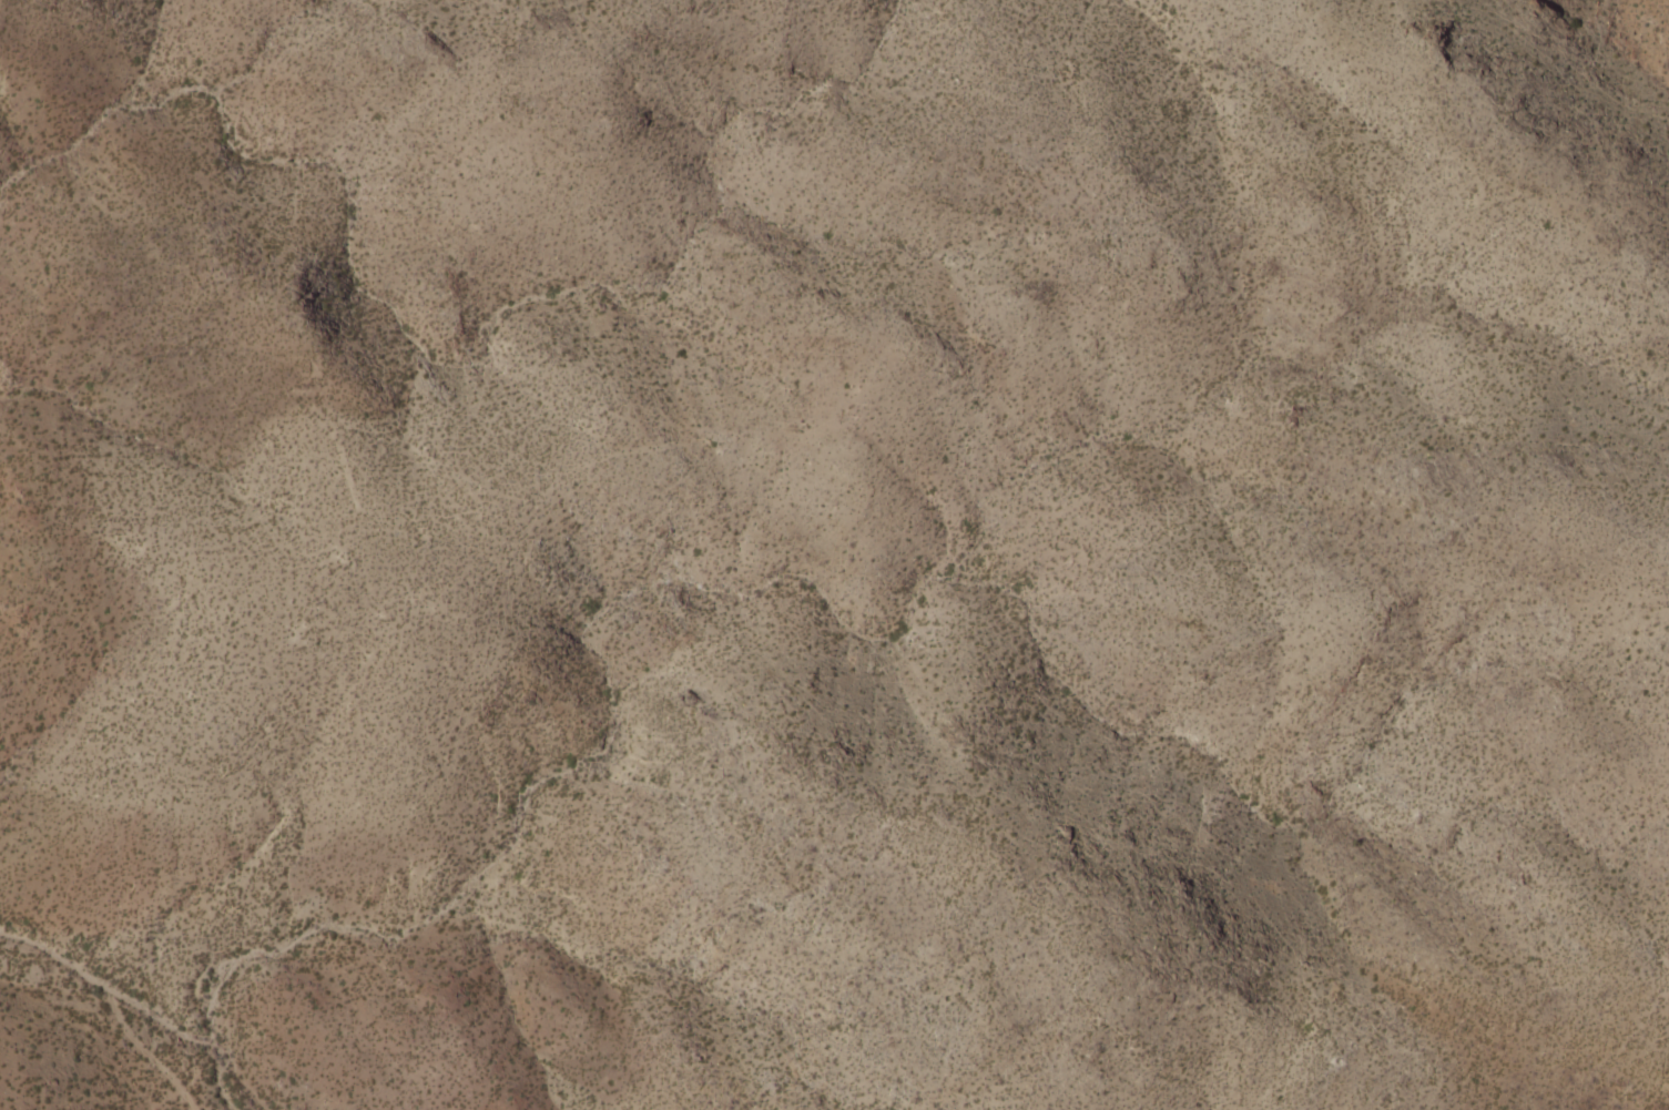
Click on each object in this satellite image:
road: (111, 1004)

